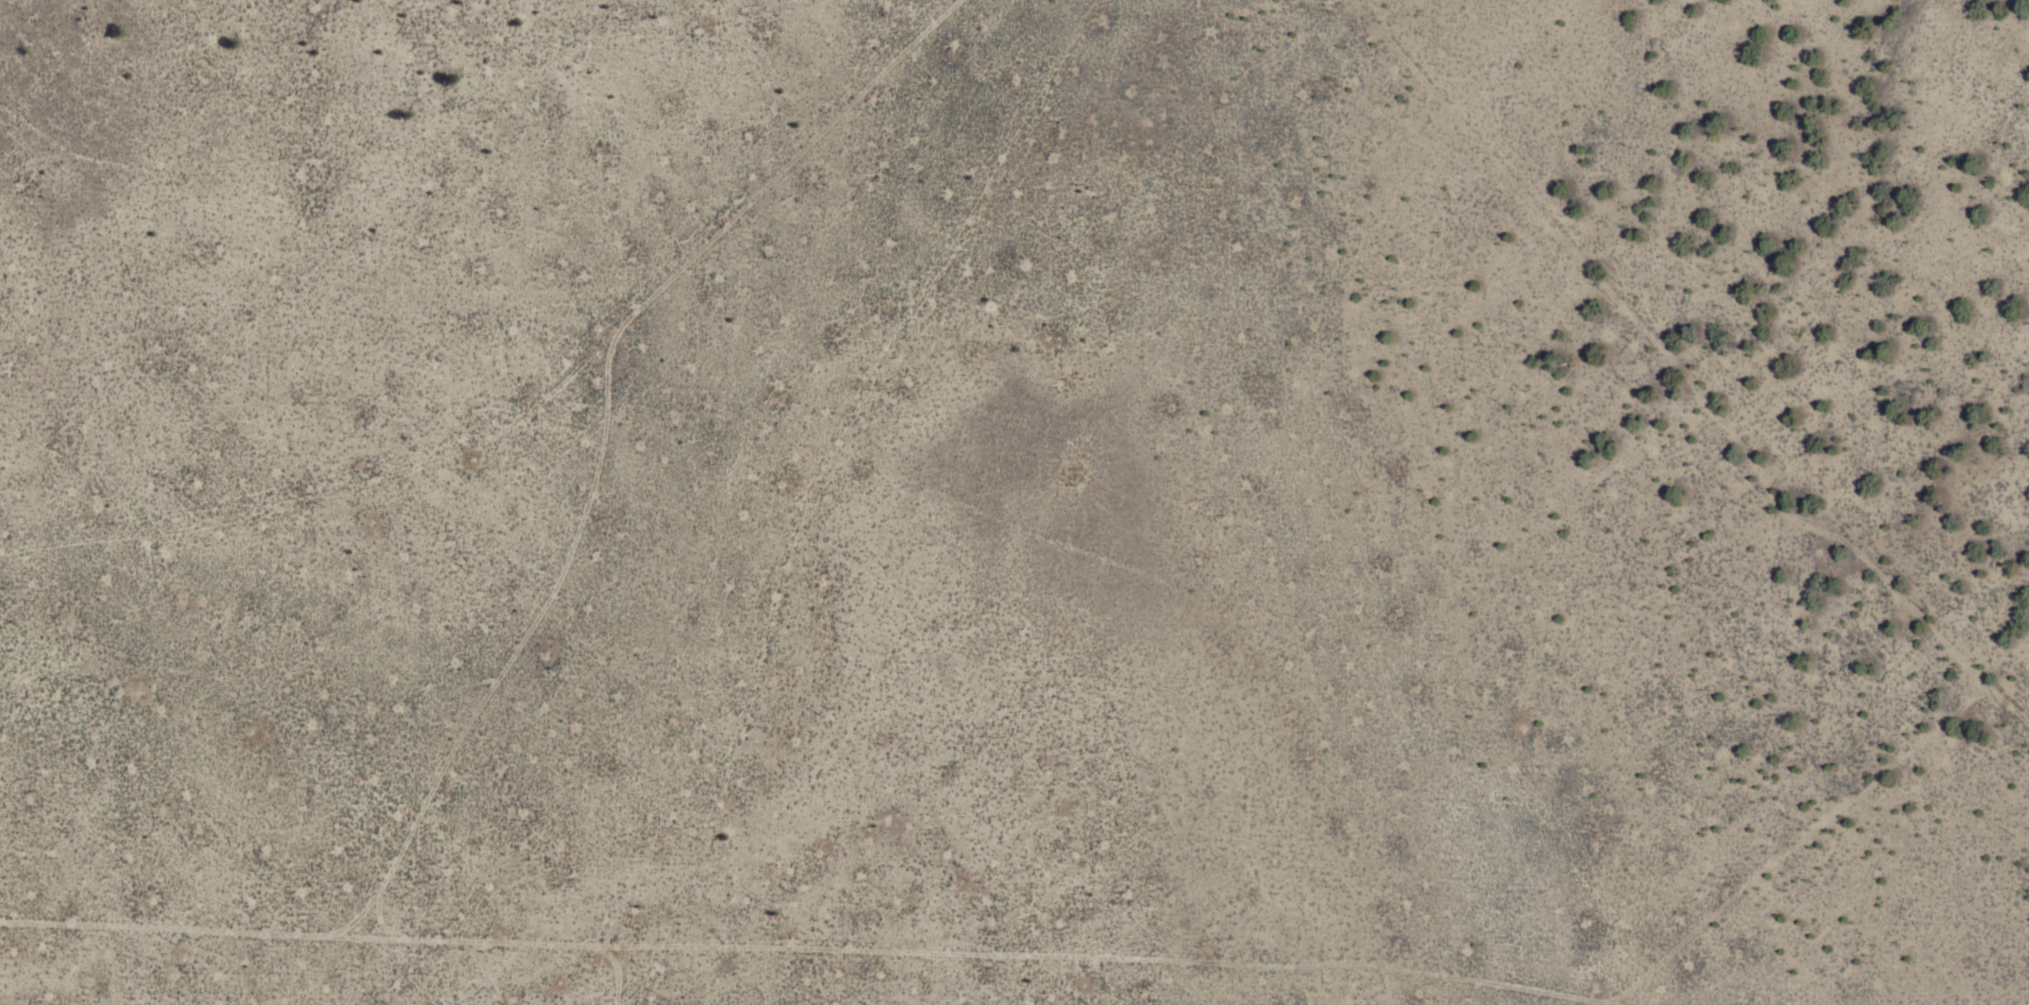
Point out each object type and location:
road: (921, 945)
road: (615, 971)

